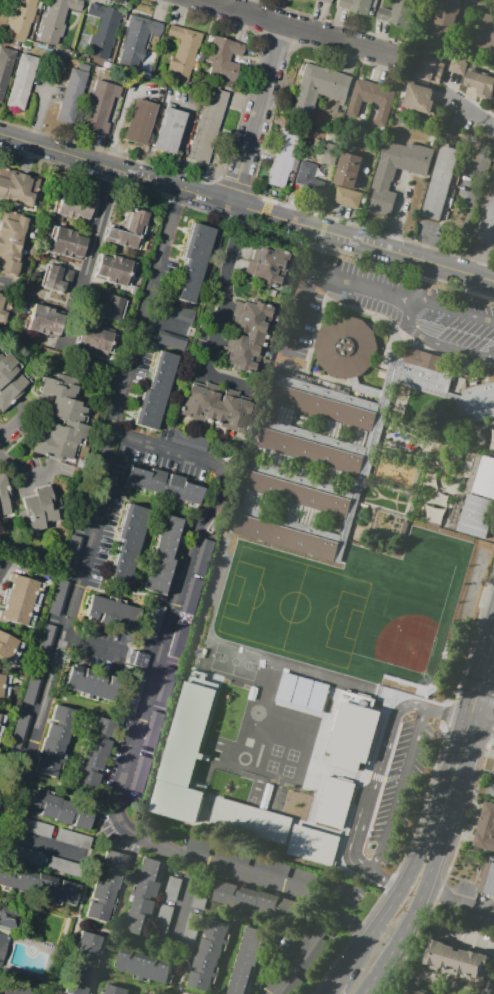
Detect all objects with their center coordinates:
building: (472, 0)
building: (324, 1)
building: (355, 5)
building: (447, 12)
building: (397, 13)
building: (20, 18)
building: (54, 20)
road: (292, 26)
building: (101, 29)
building: (486, 34)
building: (135, 40)
building: (28, 42)
building: (67, 50)
building: (182, 52)
building: (223, 58)
building: (107, 65)
building: (83, 66)
building: (5, 68)
building: (430, 70)
building: (473, 78)
building: (22, 82)
building: (318, 88)
building: (71, 92)
building: (165, 99)
building: (371, 99)
building: (420, 100)
building: (100, 107)
building: (492, 110)
road: (470, 113)
road: (257, 114)
building: (139, 121)
building: (207, 125)
road: (117, 129)
building: (168, 130)
road: (183, 137)
building: (321, 151)
building: (284, 158)
building: (383, 179)
building: (348, 180)
building: (306, 181)
building: (439, 182)
building: (16, 187)
building: (74, 204)
road: (246, 211)
road: (211, 216)
building: (485, 220)
building: (127, 230)
building: (65, 242)
building: (12, 243)
road: (91, 257)
building: (195, 261)
building: (267, 265)
building: (113, 269)
building: (54, 277)
parking lot: (170, 278)
road: (3, 285)
road: (458, 287)
road: (305, 293)
road: (383, 293)
building: (3, 301)
building: (109, 307)
parking lot: (392, 309)
building: (178, 312)
road: (226, 316)
building: (43, 320)
road: (410, 321)
road: (168, 324)
building: (247, 334)
building: (95, 338)
building: (170, 342)
parking lot: (144, 365)
building: (10, 379)
building: (157, 393)
building: (215, 408)
building: (69, 417)
parking lot: (167, 435)
building: (283, 440)
building: (189, 441)
building: (492, 445)
parking lot: (160, 462)
building: (163, 485)
building: (5, 499)
building: (476, 504)
road: (102, 507)
building: (40, 510)
building: (434, 514)
building: (404, 529)
parking lot: (107, 536)
building: (131, 545)
building: (72, 553)
building: (203, 557)
building: (163, 558)
building: (234, 566)
road: (4, 568)
road: (129, 591)
building: (226, 592)
building: (191, 597)
building: (58, 599)
building: (20, 600)
building: (112, 612)
park: (294, 612)
building: (281, 619)
building: (154, 623)
road: (476, 626)
building: (178, 641)
building: (45, 642)
park: (408, 647)
building: (9, 648)
road: (92, 648)
building: (432, 648)
building: (138, 658)
park: (233, 660)
building: (165, 684)
building: (4, 685)
building: (92, 687)
building: (285, 687)
building: (32, 688)
building: (300, 692)
building: (317, 697)
building: (133, 700)
road: (450, 701)
road: (470, 701)
road: (443, 714)
building: (2, 721)
road: (143, 721)
road: (482, 722)
road: (442, 728)
building: (151, 729)
building: (281, 729)
building: (18, 731)
building: (353, 735)
building: (55, 740)
road: (462, 742)
building: (94, 751)
building: (183, 760)
park: (293, 764)
building: (138, 773)
road: (377, 775)
parking lot: (106, 785)
building: (491, 786)
road: (400, 793)
building: (334, 805)
road: (421, 806)
building: (57, 809)
building: (249, 824)
building: (34, 827)
building: (485, 828)
building: (73, 838)
road: (41, 844)
building: (201, 846)
building: (314, 846)
building: (25, 855)
building: (233, 856)
building: (65, 866)
building: (272, 867)
building: (302, 875)
building: (487, 879)
road: (386, 882)
building: (38, 885)
building: (106, 886)
building: (173, 888)
building: (202, 892)
road: (185, 893)
building: (145, 896)
building: (252, 900)
road: (341, 900)
road: (459, 902)
road: (385, 914)
building: (7, 916)
building: (163, 922)
road: (75, 924)
park: (42, 925)
road: (407, 926)
building: (191, 930)
road: (112, 933)
building: (5, 934)
road: (3, 937)
road: (466, 939)
road: (301, 952)
building: (312, 953)
building: (209, 955)
building: (454, 959)
building: (247, 960)
building: (81, 963)
building: (145, 966)
road: (45, 975)
road: (423, 982)
building: (290, 985)
road: (336, 987)
building: (19, 990)
building: (115, 990)
road: (57, 992)
building: (422, 993)

